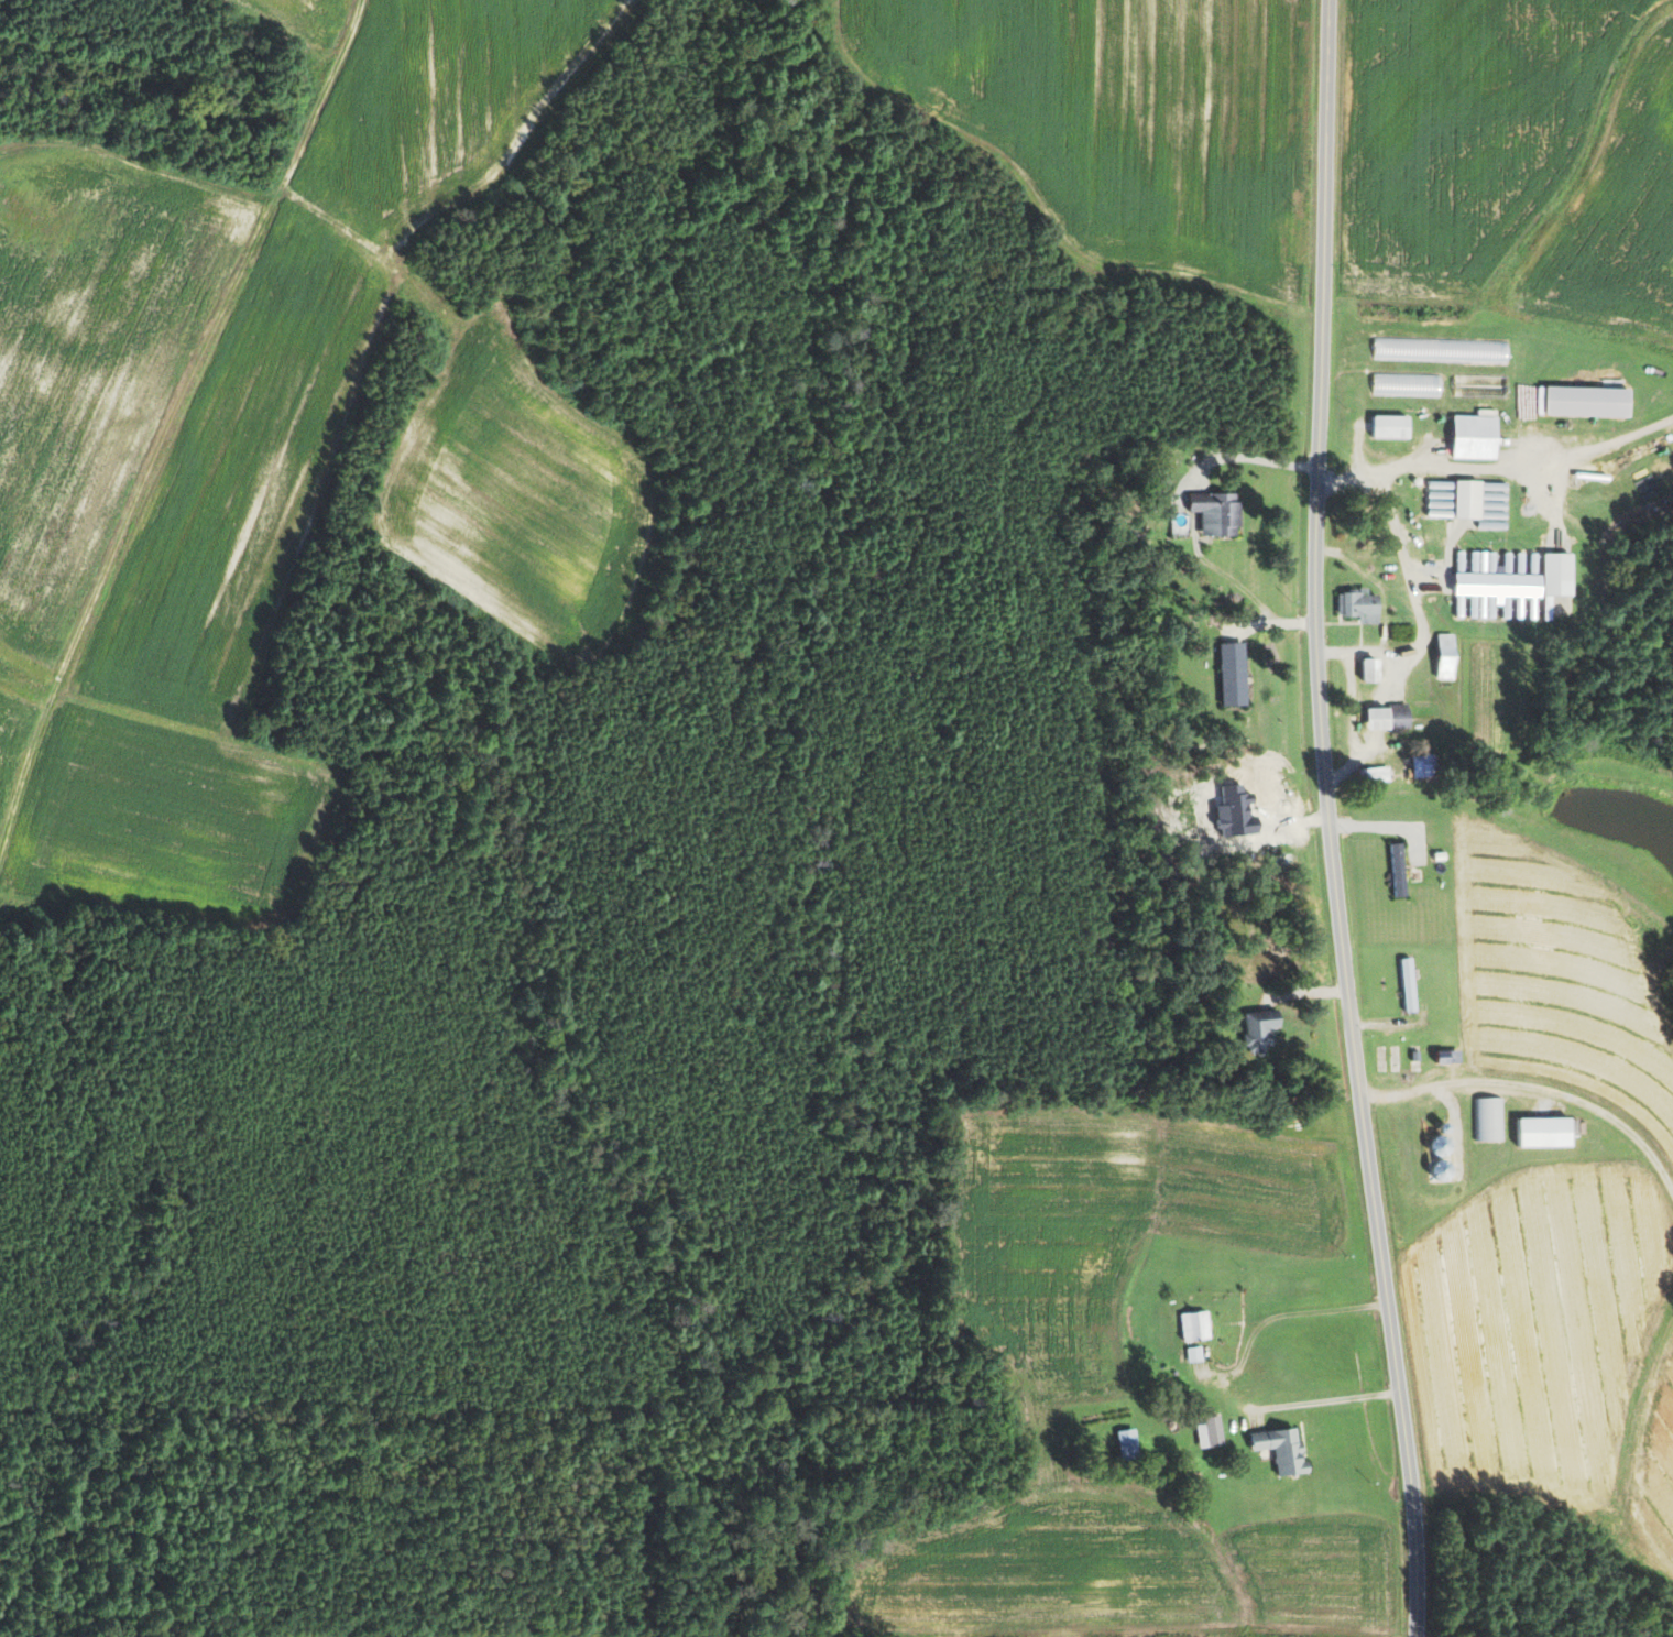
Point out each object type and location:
building: (1408, 384)
building: (1483, 385)
building: (1587, 401)
building: (1392, 426)
building: (1478, 437)
road: (1500, 470)
building: (1468, 499)
building: (1220, 513)
building: (1561, 575)
building: (1501, 594)
building: (1362, 605)
road: (1418, 610)
building: (1448, 656)
building: (1235, 668)
building: (1375, 669)
building: (1390, 717)
road: (1353, 722)
building: (1426, 766)
building: (1376, 775)
road: (1327, 820)
road: (1377, 829)
building: (1399, 870)
building: (1410, 985)
road: (1386, 1028)
building: (1262, 1030)
building: (1451, 1057)
road: (1537, 1091)
building: (1549, 1133)
road: (1300, 1310)
building: (1196, 1327)
building: (1195, 1354)
road: (1325, 1399)
building: (1211, 1433)
building: (1129, 1444)
building: (1284, 1450)

